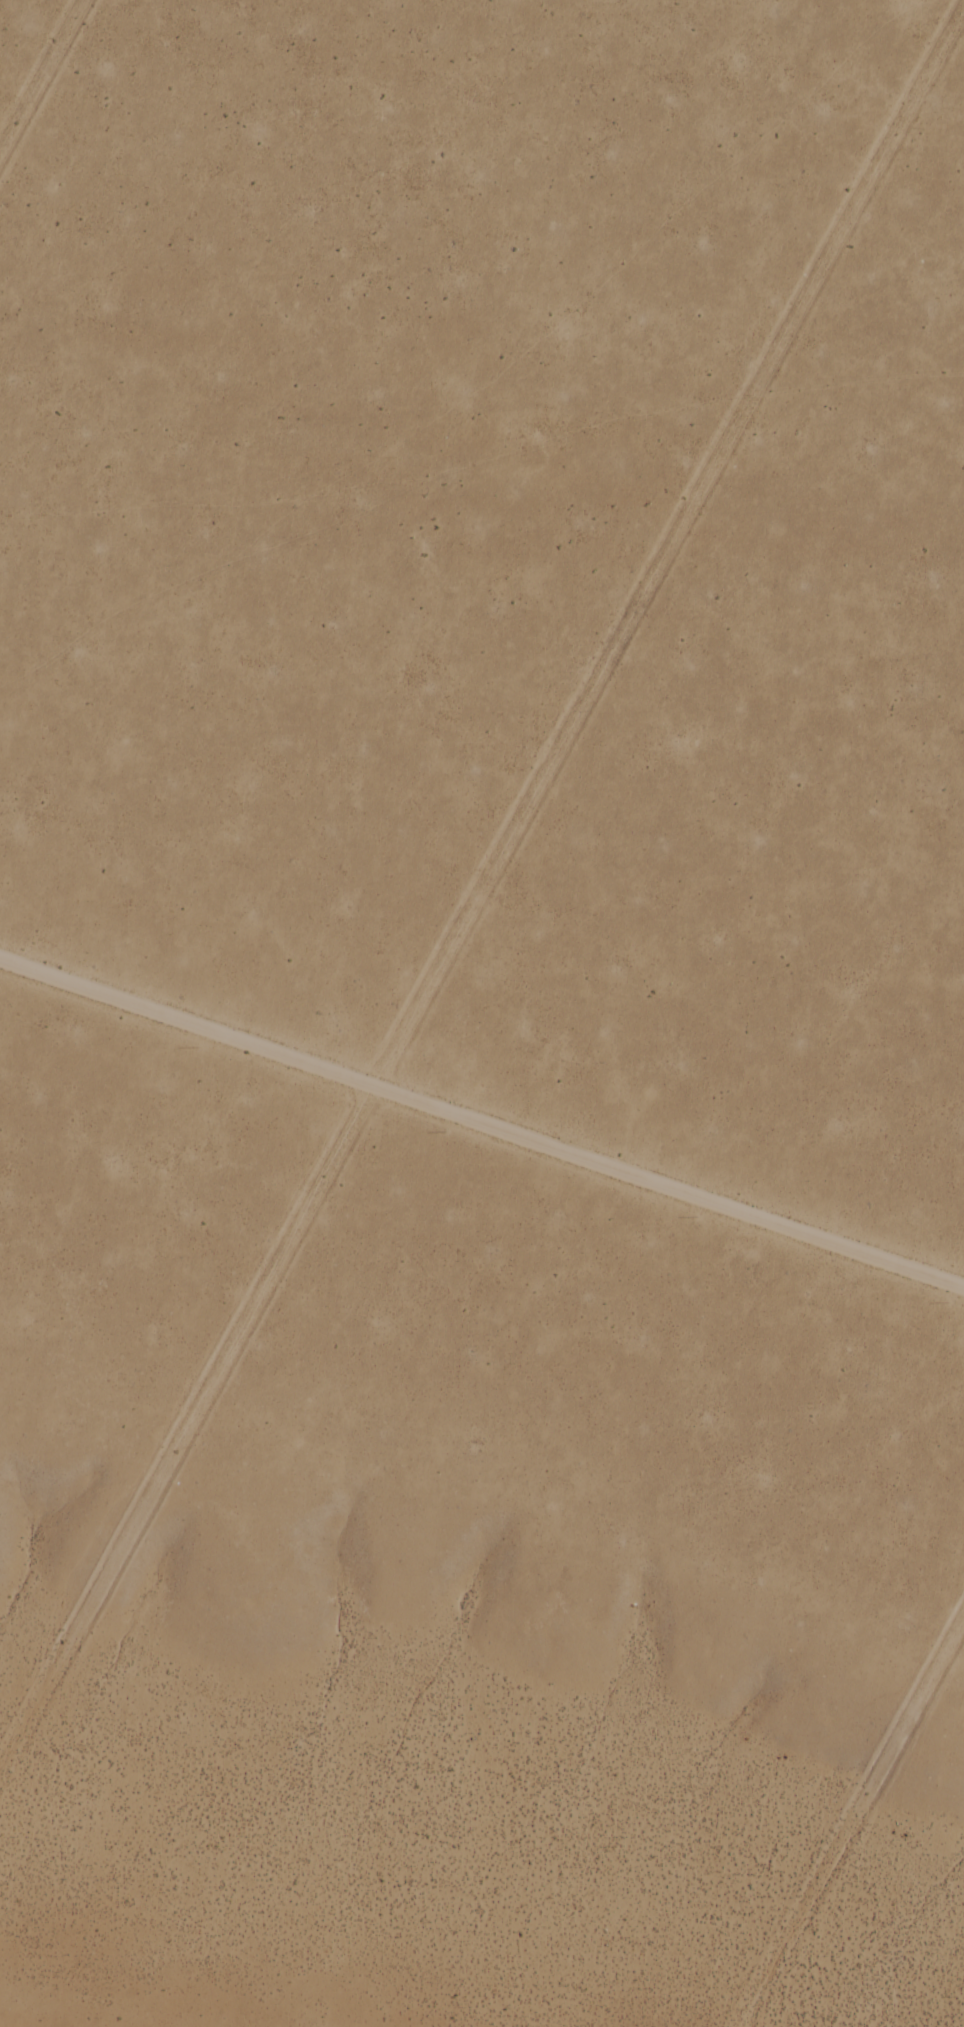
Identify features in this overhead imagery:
road: (44, 81)
road: (473, 895)
road: (481, 1130)
road: (857, 1827)

